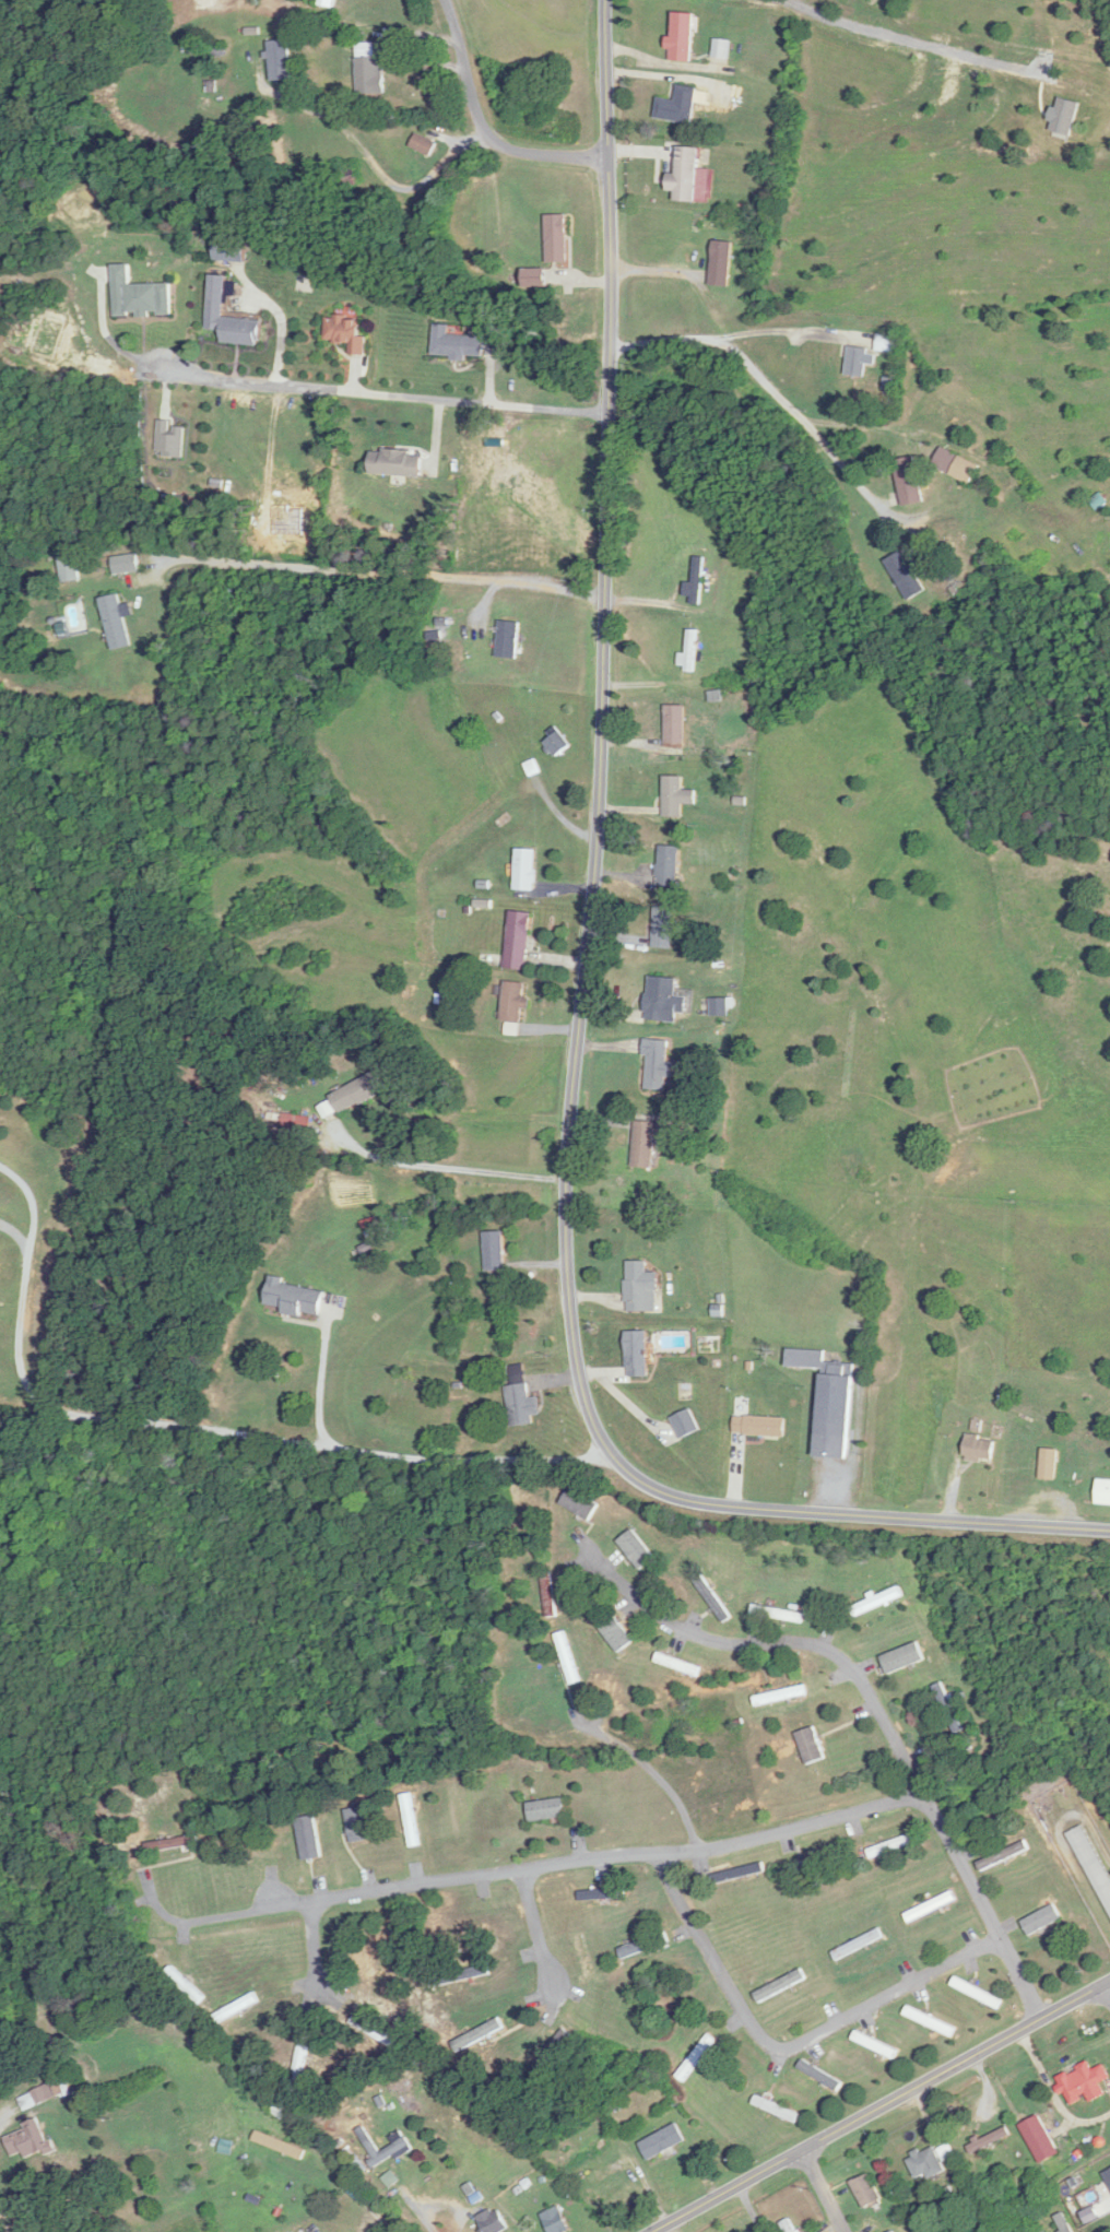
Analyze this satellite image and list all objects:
building: (327, 3)
building: (312, 17)
building: (682, 36)
building: (721, 48)
building: (280, 60)
building: (369, 70)
building: (678, 106)
road: (483, 132)
building: (424, 144)
road: (368, 160)
building: (688, 175)
building: (347, 178)
building: (556, 238)
building: (231, 251)
building: (721, 263)
building: (140, 296)
building: (231, 318)
building: (346, 333)
building: (457, 344)
building: (885, 344)
building: (857, 362)
road: (369, 392)
road: (784, 408)
building: (397, 463)
building: (957, 465)
building: (909, 482)
building: (126, 565)
road: (370, 574)
building: (906, 576)
building: (696, 582)
building: (116, 623)
building: (508, 640)
building: (688, 653)
building: (675, 727)
building: (556, 745)
building: (676, 796)
building: (669, 865)
building: (526, 871)
building: (663, 929)
building: (518, 941)
road: (582, 990)
building: (664, 1001)
building: (513, 1003)
building: (719, 1007)
building: (658, 1065)
building: (358, 1093)
building: (646, 1145)
road: (444, 1166)
building: (495, 1252)
building: (641, 1288)
building: (295, 1299)
building: (638, 1354)
road: (320, 1387)
building: (830, 1401)
building: (522, 1402)
building: (686, 1424)
building: (759, 1426)
road: (196, 1429)
building: (980, 1448)
building: (1049, 1464)
building: (1103, 1491)
building: (580, 1504)
building: (637, 1549)
building: (550, 1594)
building: (877, 1602)
building: (778, 1614)
building: (615, 1632)
building: (904, 1657)
building: (567, 1658)
building: (678, 1665)
building: (780, 1696)
building: (947, 1708)
road: (881, 1717)
building: (811, 1746)
road: (661, 1778)
building: (547, 1809)
building: (411, 1820)
building: (357, 1824)
building: (308, 1837)
building: (174, 1843)
building: (889, 1846)
building: (1003, 1855)
road: (593, 1857)
building: (1093, 1863)
building: (811, 1864)
building: (739, 1873)
building: (602, 1893)
building: (931, 1906)
building: (1042, 1920)
road: (191, 1921)
building: (472, 1926)
road: (536, 1928)
building: (859, 1944)
building: (645, 1945)
road: (314, 1947)
building: (584, 1957)
building: (781, 1985)
building: (978, 1993)
road: (1108, 1993)
building: (236, 2008)
building: (930, 2021)
building: (479, 2034)
road: (787, 2042)
building: (875, 2044)
building: (551, 2051)
building: (696, 2057)
building: (300, 2063)
building: (822, 2075)
building: (1084, 2082)
building: (614, 2107)
building: (777, 2109)
road: (885, 2109)
building: (990, 2139)
building: (1040, 2139)
building: (28, 2140)
building: (280, 2146)
building: (395, 2148)
building: (929, 2161)
building: (866, 2190)
road: (825, 2193)
road: (432, 2205)
road: (749, 2210)
building: (493, 2221)
building: (556, 2221)
building: (790, 2225)
building: (982, 2225)
building: (1043, 2230)
building: (893, 2231)

